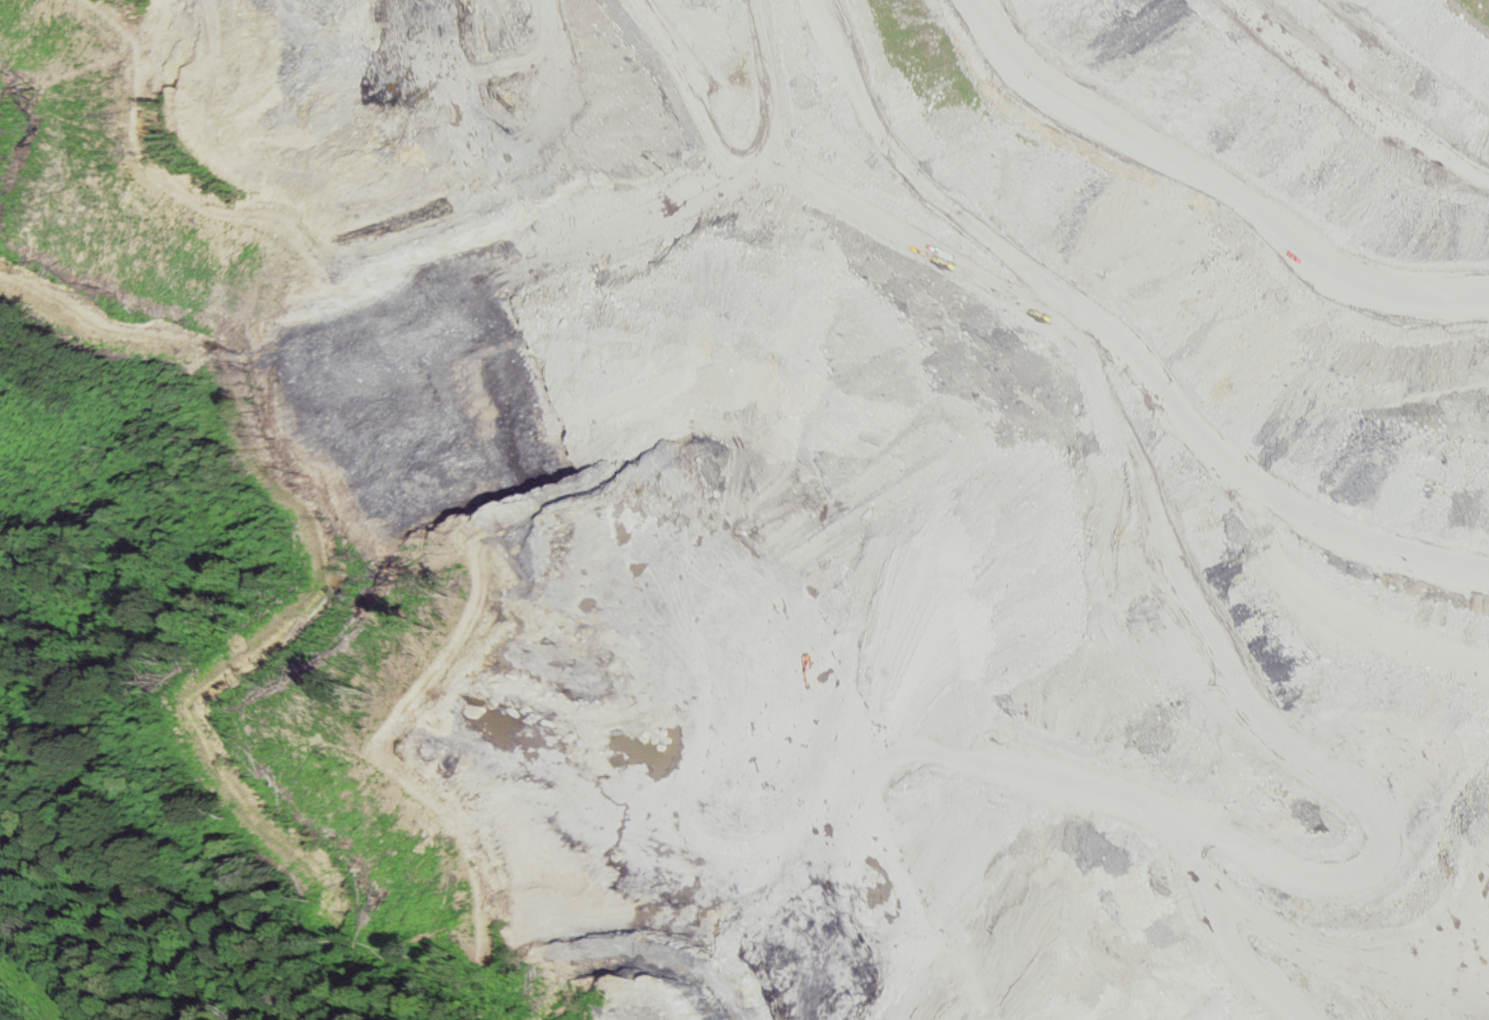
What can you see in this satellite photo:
quarry: (822, 482)

